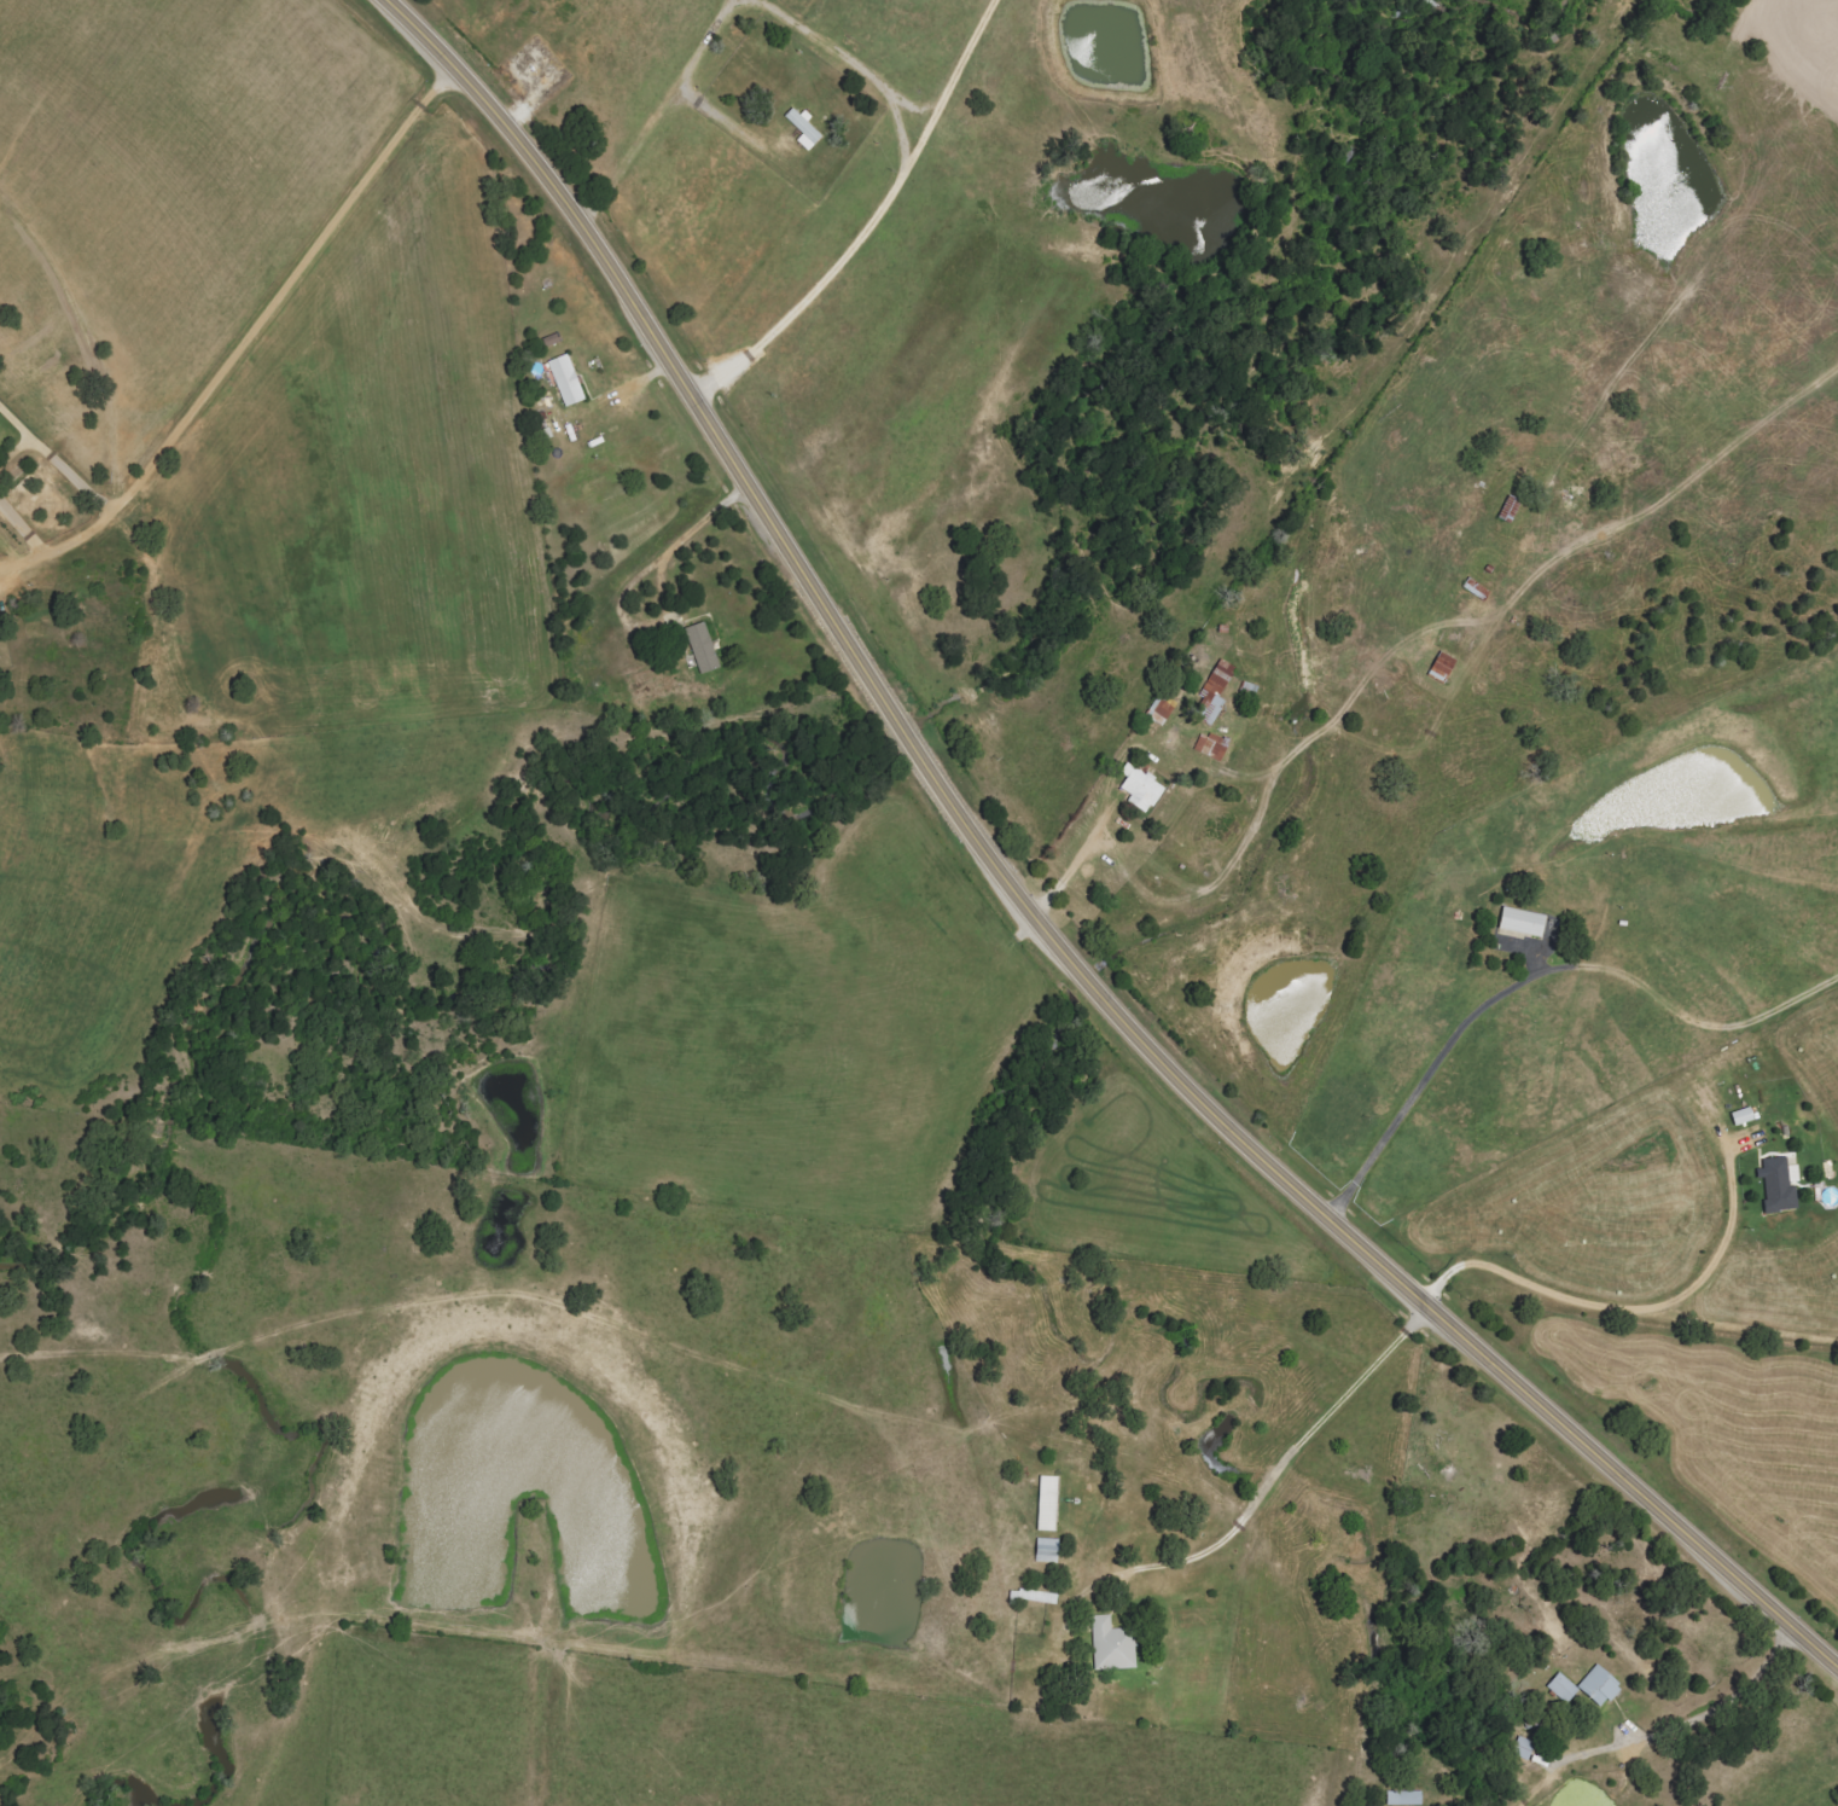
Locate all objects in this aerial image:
road: (658, 116)
building: (804, 128)
road: (258, 313)
building: (566, 379)
road: (94, 518)
building: (702, 648)
building: (1216, 691)
building: (1161, 710)
building: (1211, 747)
building: (1141, 788)
road: (1075, 865)
road: (1026, 907)
building: (1522, 922)
road: (1427, 1069)
building: (1780, 1185)
road: (1631, 1313)
road: (1257, 1494)
building: (1048, 1504)
building: (1047, 1551)
building: (1037, 1597)
building: (1113, 1645)
building: (1600, 1686)
building: (1563, 1689)
road: (1685, 1721)
building: (1523, 1748)
building: (1404, 1799)

